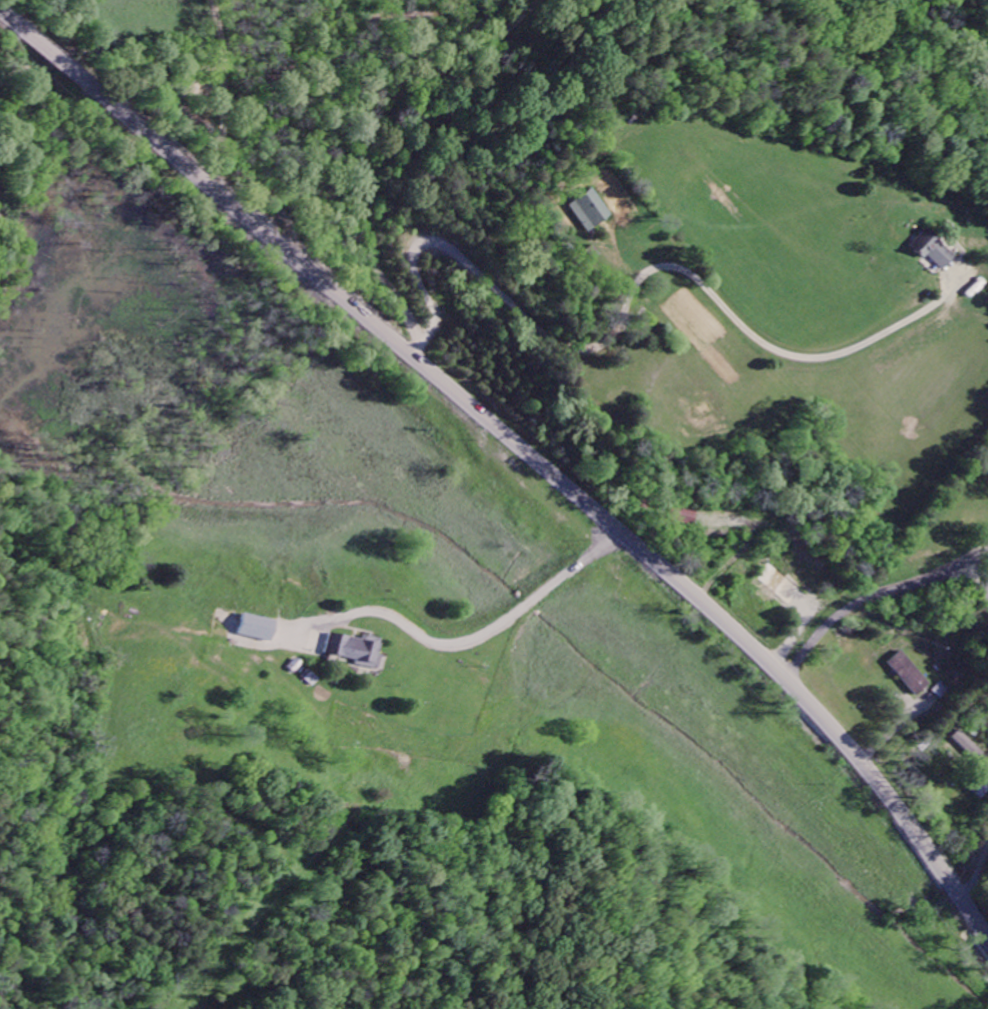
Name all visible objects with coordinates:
road: (302, 52)
road: (135, 63)
road: (474, 133)
road: (243, 170)
building: (588, 212)
building: (931, 251)
road: (520, 451)
building: (259, 630)
road: (475, 634)
building: (357, 651)
building: (908, 675)
building: (940, 691)
building: (980, 792)

